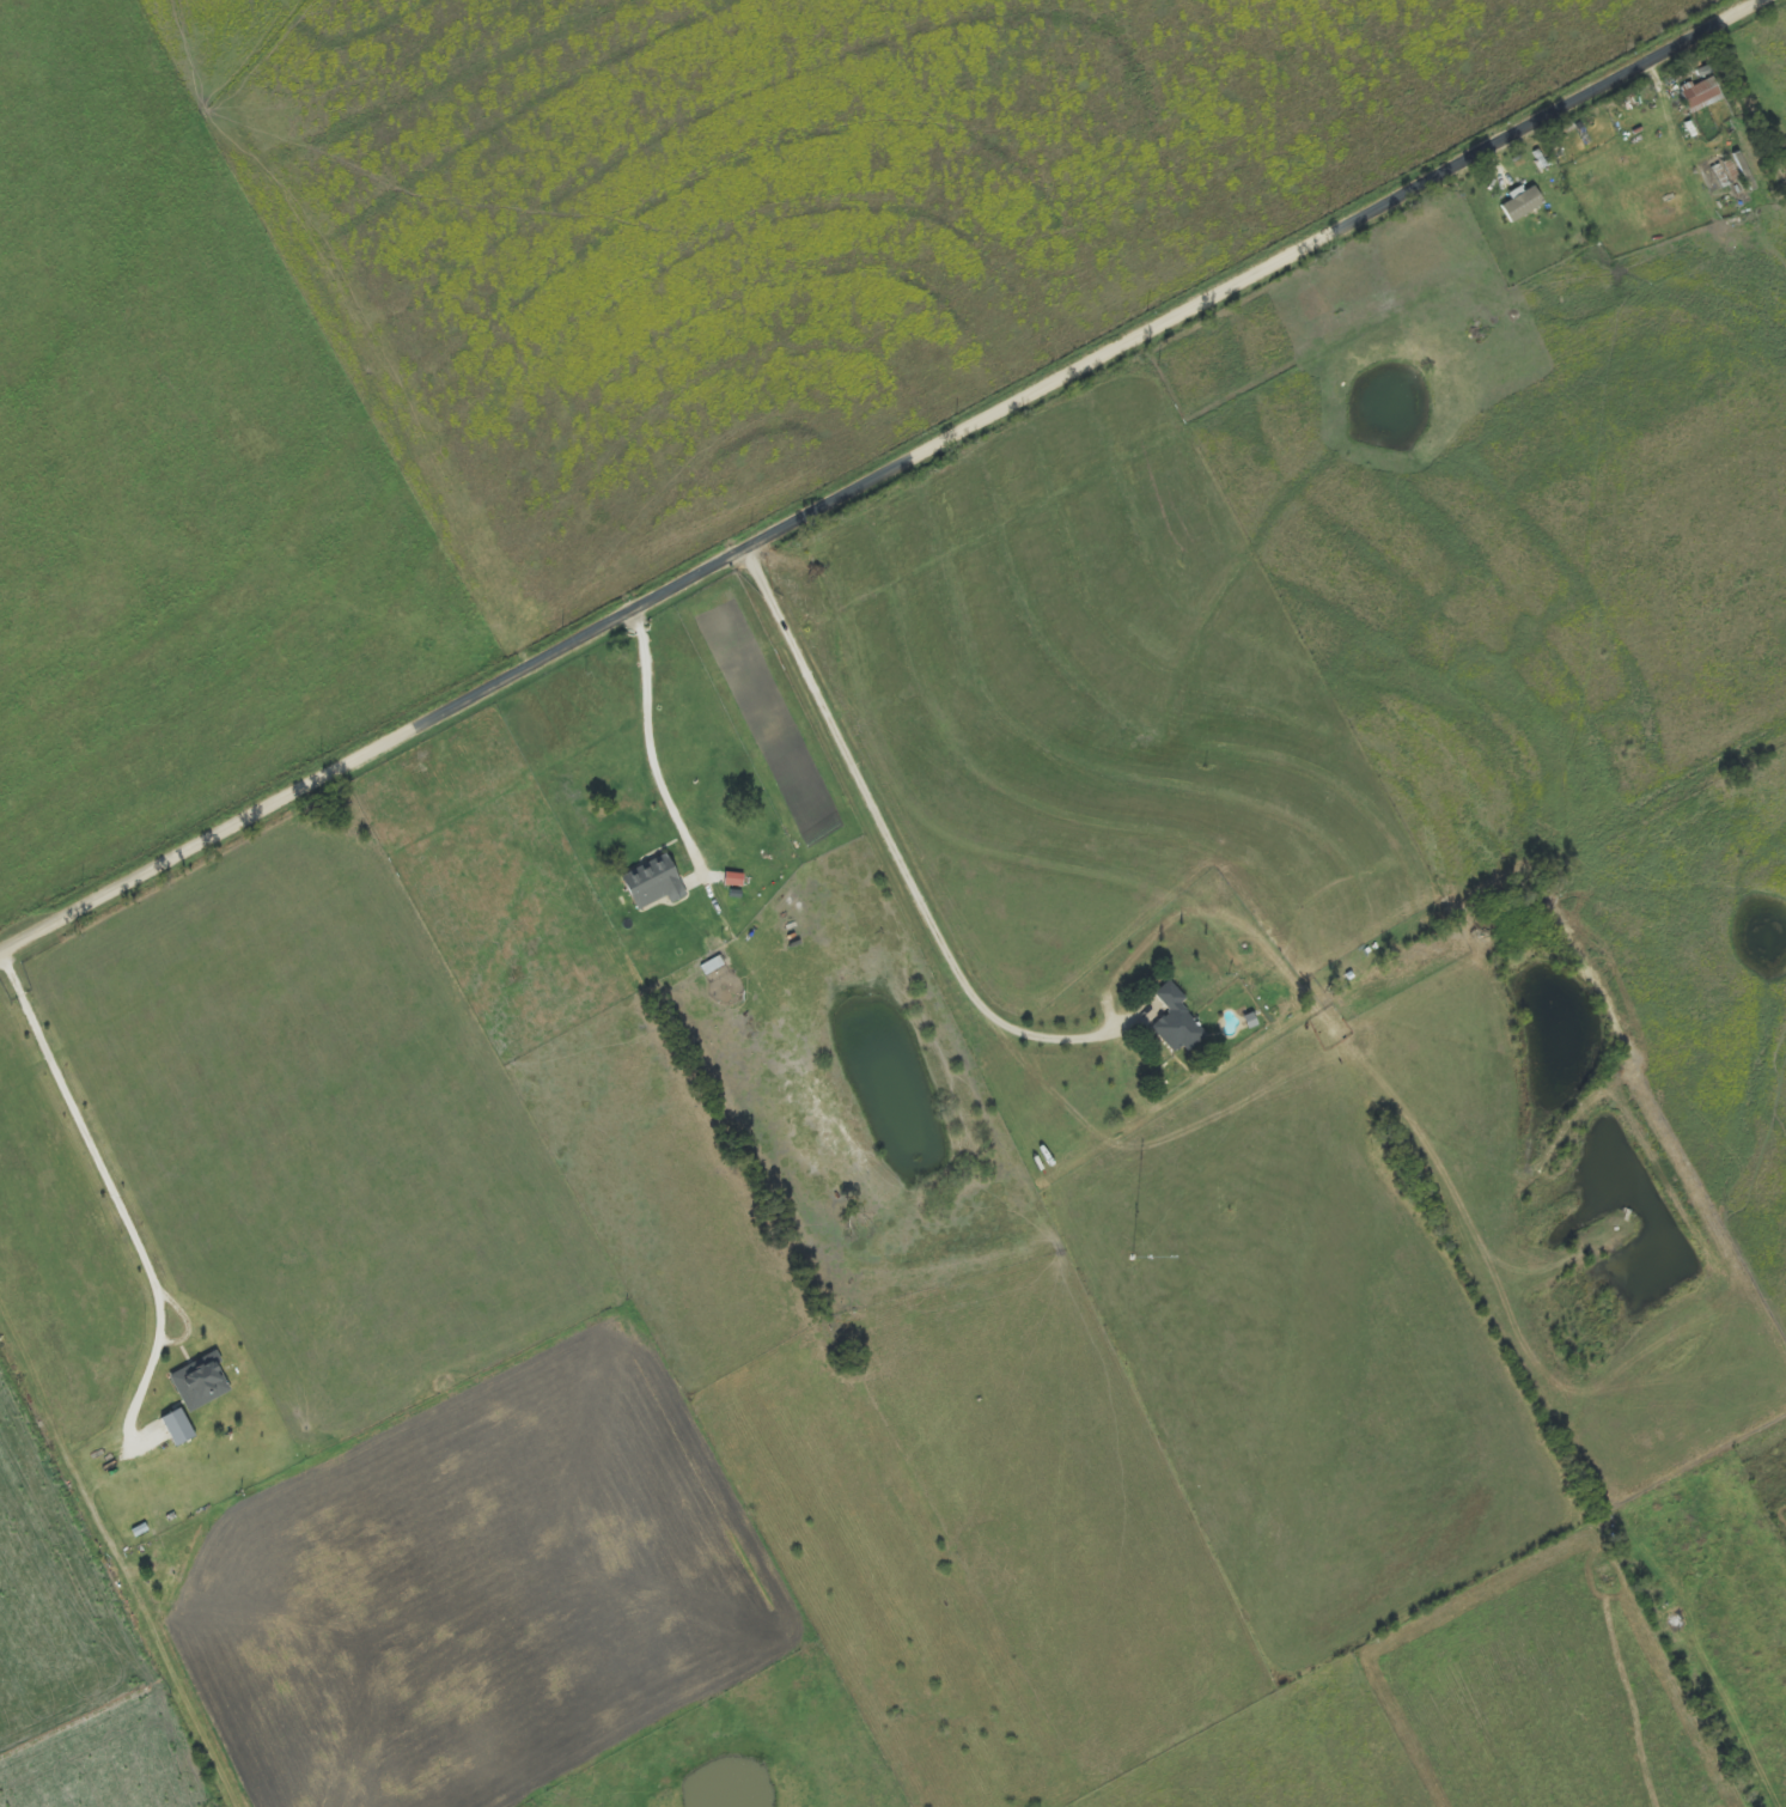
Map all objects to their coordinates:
building: (1703, 95)
building: (1525, 203)
road: (880, 475)
road: (895, 845)
building: (737, 880)
building: (657, 883)
building: (1178, 1021)
road: (81, 1128)
building: (205, 1386)
building: (182, 1429)

